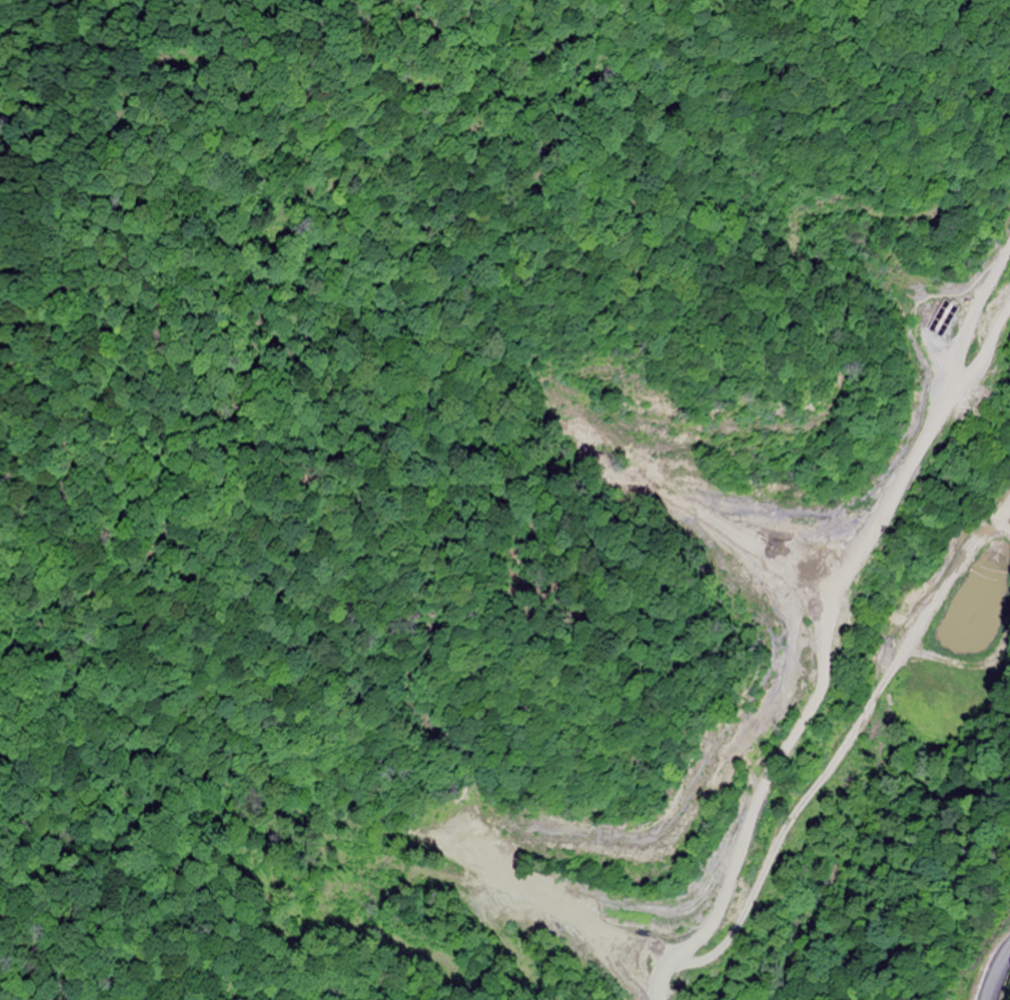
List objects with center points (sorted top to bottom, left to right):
road: (1004, 993)

